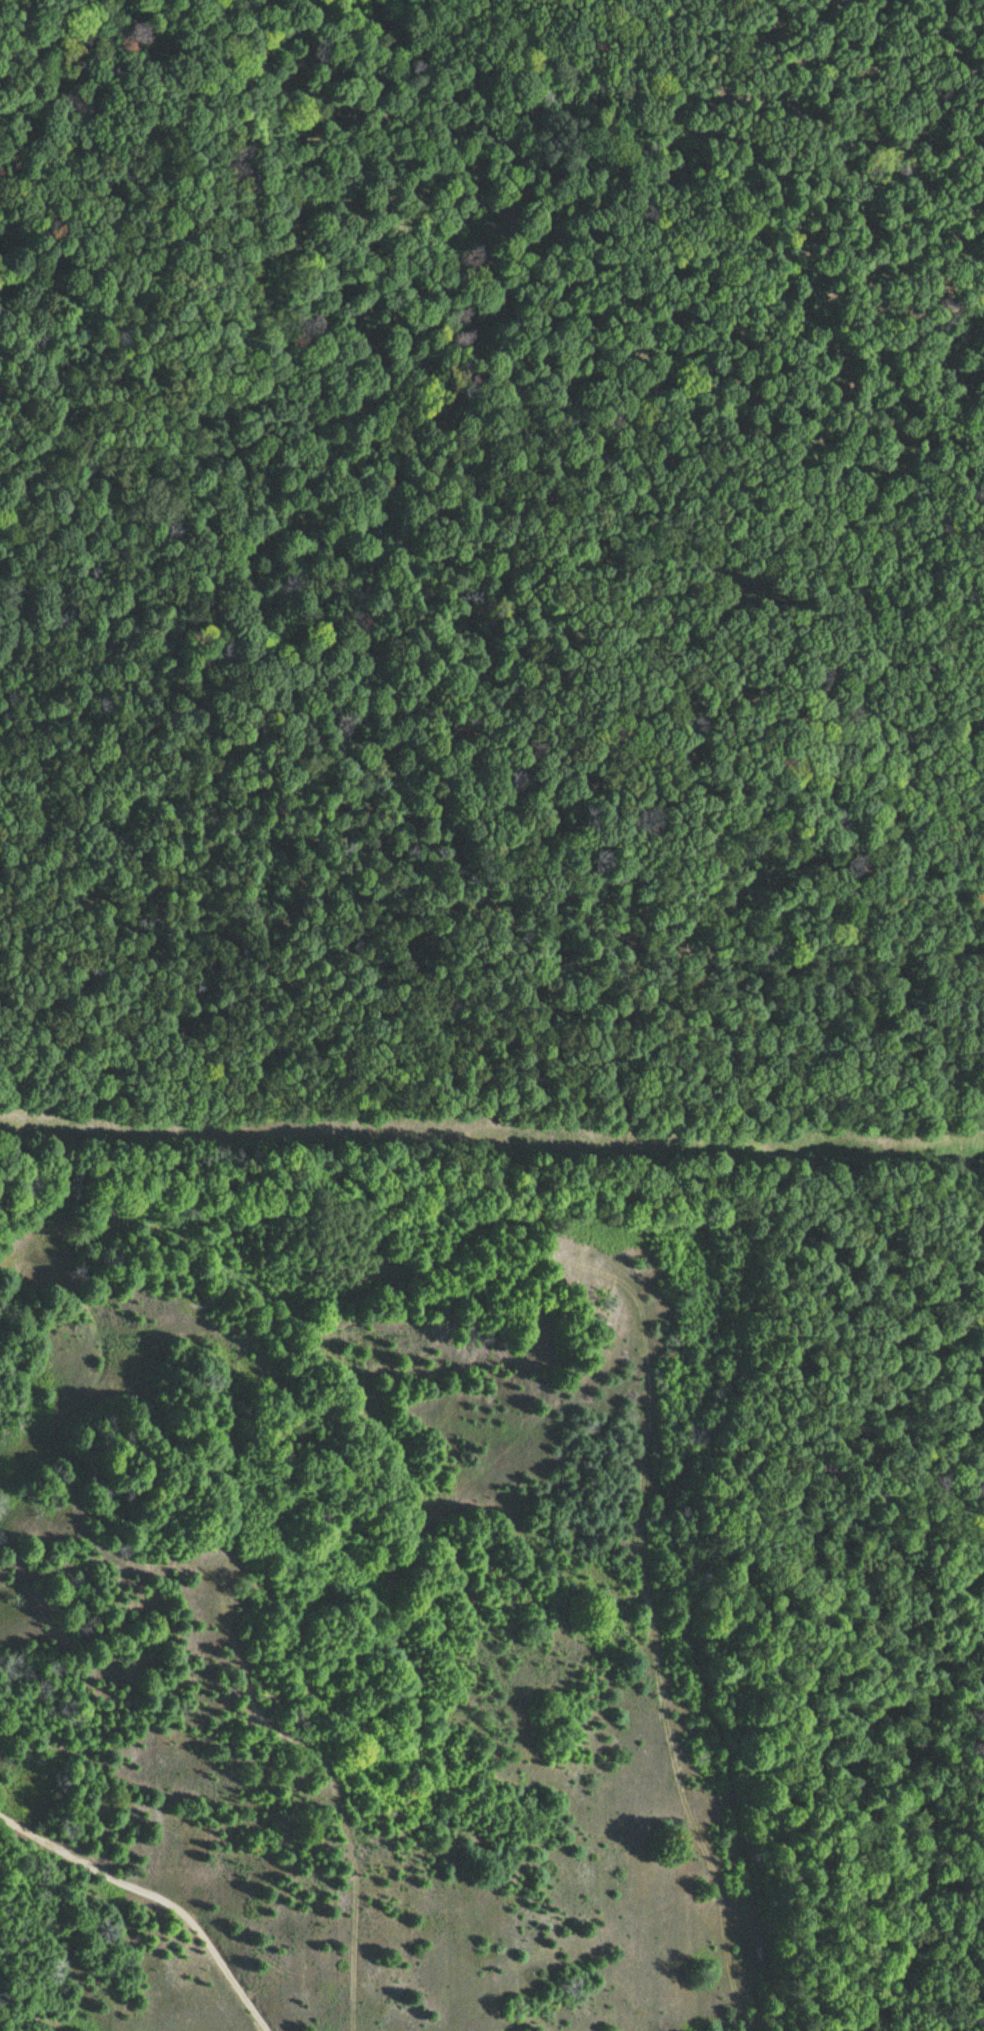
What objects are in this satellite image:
road: (632, 1310)

